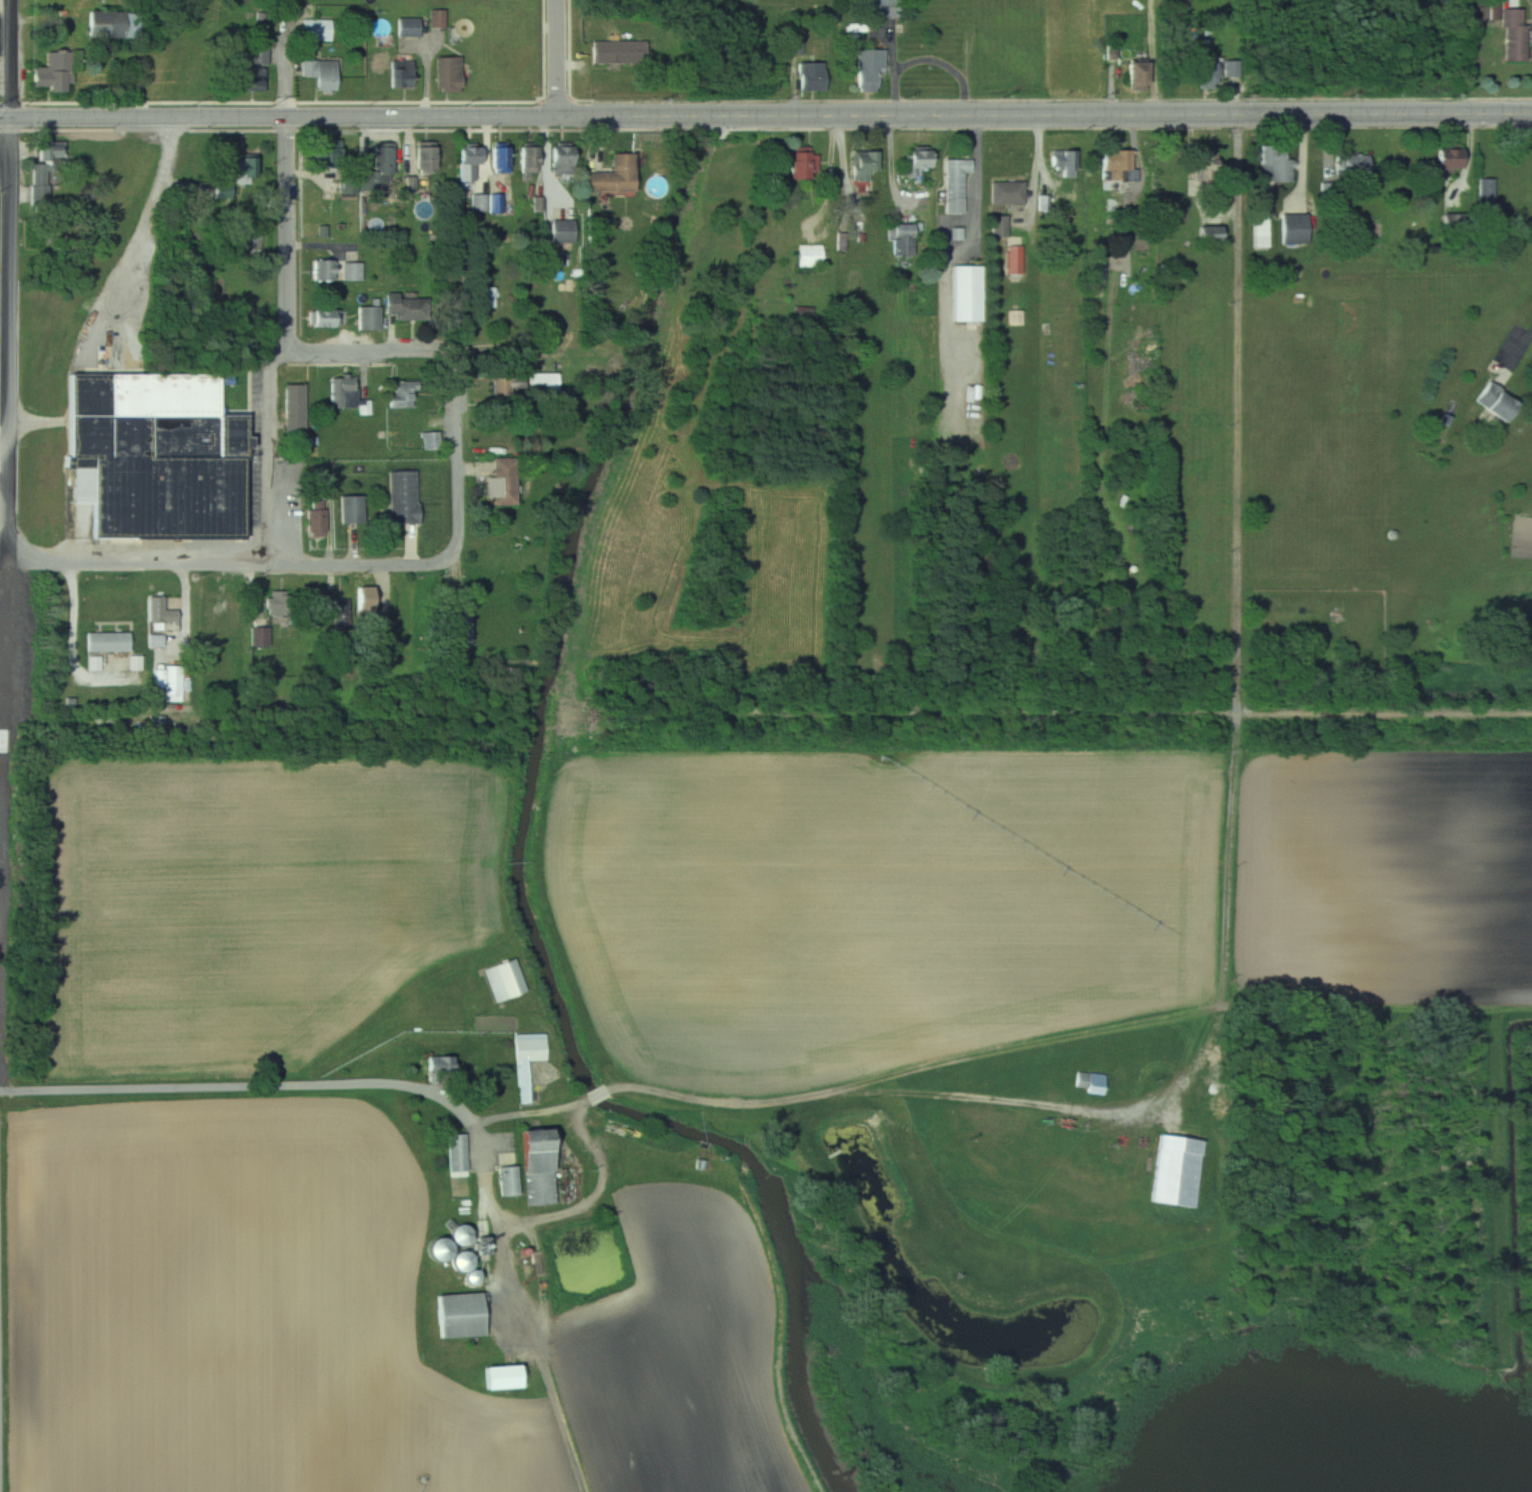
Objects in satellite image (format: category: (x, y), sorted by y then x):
road: (7, 3)
building: (879, 8)
building: (437, 18)
building: (112, 25)
building: (409, 27)
building: (316, 30)
building: (1514, 33)
building: (619, 52)
road: (559, 58)
road: (14, 59)
road: (927, 59)
building: (254, 67)
building: (869, 68)
building: (56, 69)
building: (1215, 71)
building: (321, 74)
building: (400, 74)
building: (447, 74)
building: (1136, 74)
building: (811, 76)
road: (766, 117)
building: (425, 156)
building: (1448, 157)
building: (500, 158)
building: (561, 158)
building: (528, 159)
building: (468, 161)
building: (918, 161)
building: (1115, 161)
building: (802, 162)
building: (383, 163)
building: (1275, 164)
building: (1352, 164)
building: (1065, 165)
building: (861, 166)
road: (1304, 169)
building: (45, 170)
building: (236, 172)
building: (1204, 172)
building: (612, 176)
building: (348, 184)
building: (956, 184)
building: (1487, 190)
building: (1007, 192)
building: (488, 203)
road: (156, 220)
building: (1000, 226)
building: (1294, 229)
building: (561, 231)
building: (1262, 232)
building: (1209, 234)
building: (902, 239)
road: (13, 241)
road: (955, 252)
building: (809, 255)
building: (324, 270)
building: (351, 271)
building: (1098, 274)
building: (965, 293)
building: (487, 297)
building: (405, 307)
building: (369, 317)
building: (323, 318)
road: (288, 343)
road: (1520, 347)
road: (390, 351)
building: (544, 381)
building: (503, 388)
building: (401, 394)
building: (348, 395)
building: (1495, 401)
building: (294, 407)
building: (431, 440)
road: (6, 449)
building: (153, 455)
building: (504, 480)
road: (461, 481)
road: (11, 489)
building: (402, 496)
building: (350, 509)
building: (315, 520)
road: (262, 564)
building: (280, 604)
building: (350, 608)
building: (160, 611)
building: (456, 627)
building: (259, 636)
building: (108, 641)
building: (1308, 645)
building: (173, 684)
building: (505, 980)
building: (528, 1060)
building: (439, 1067)
building: (1090, 1082)
road: (303, 1085)
road: (481, 1148)
building: (457, 1155)
building: (537, 1167)
building: (1174, 1171)
building: (507, 1182)
building: (460, 1316)
building: (498, 1376)

